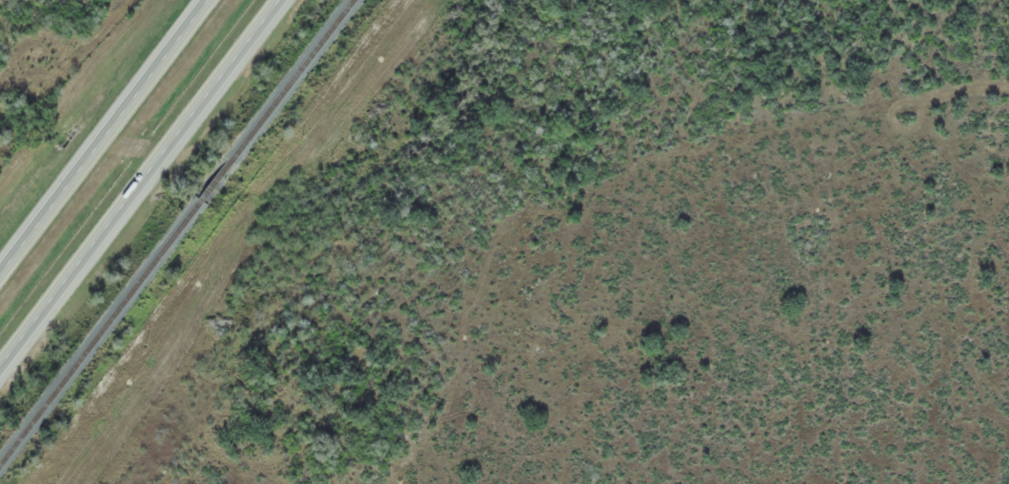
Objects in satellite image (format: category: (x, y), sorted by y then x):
road: (105, 140)
road: (144, 193)
railway: (175, 231)

